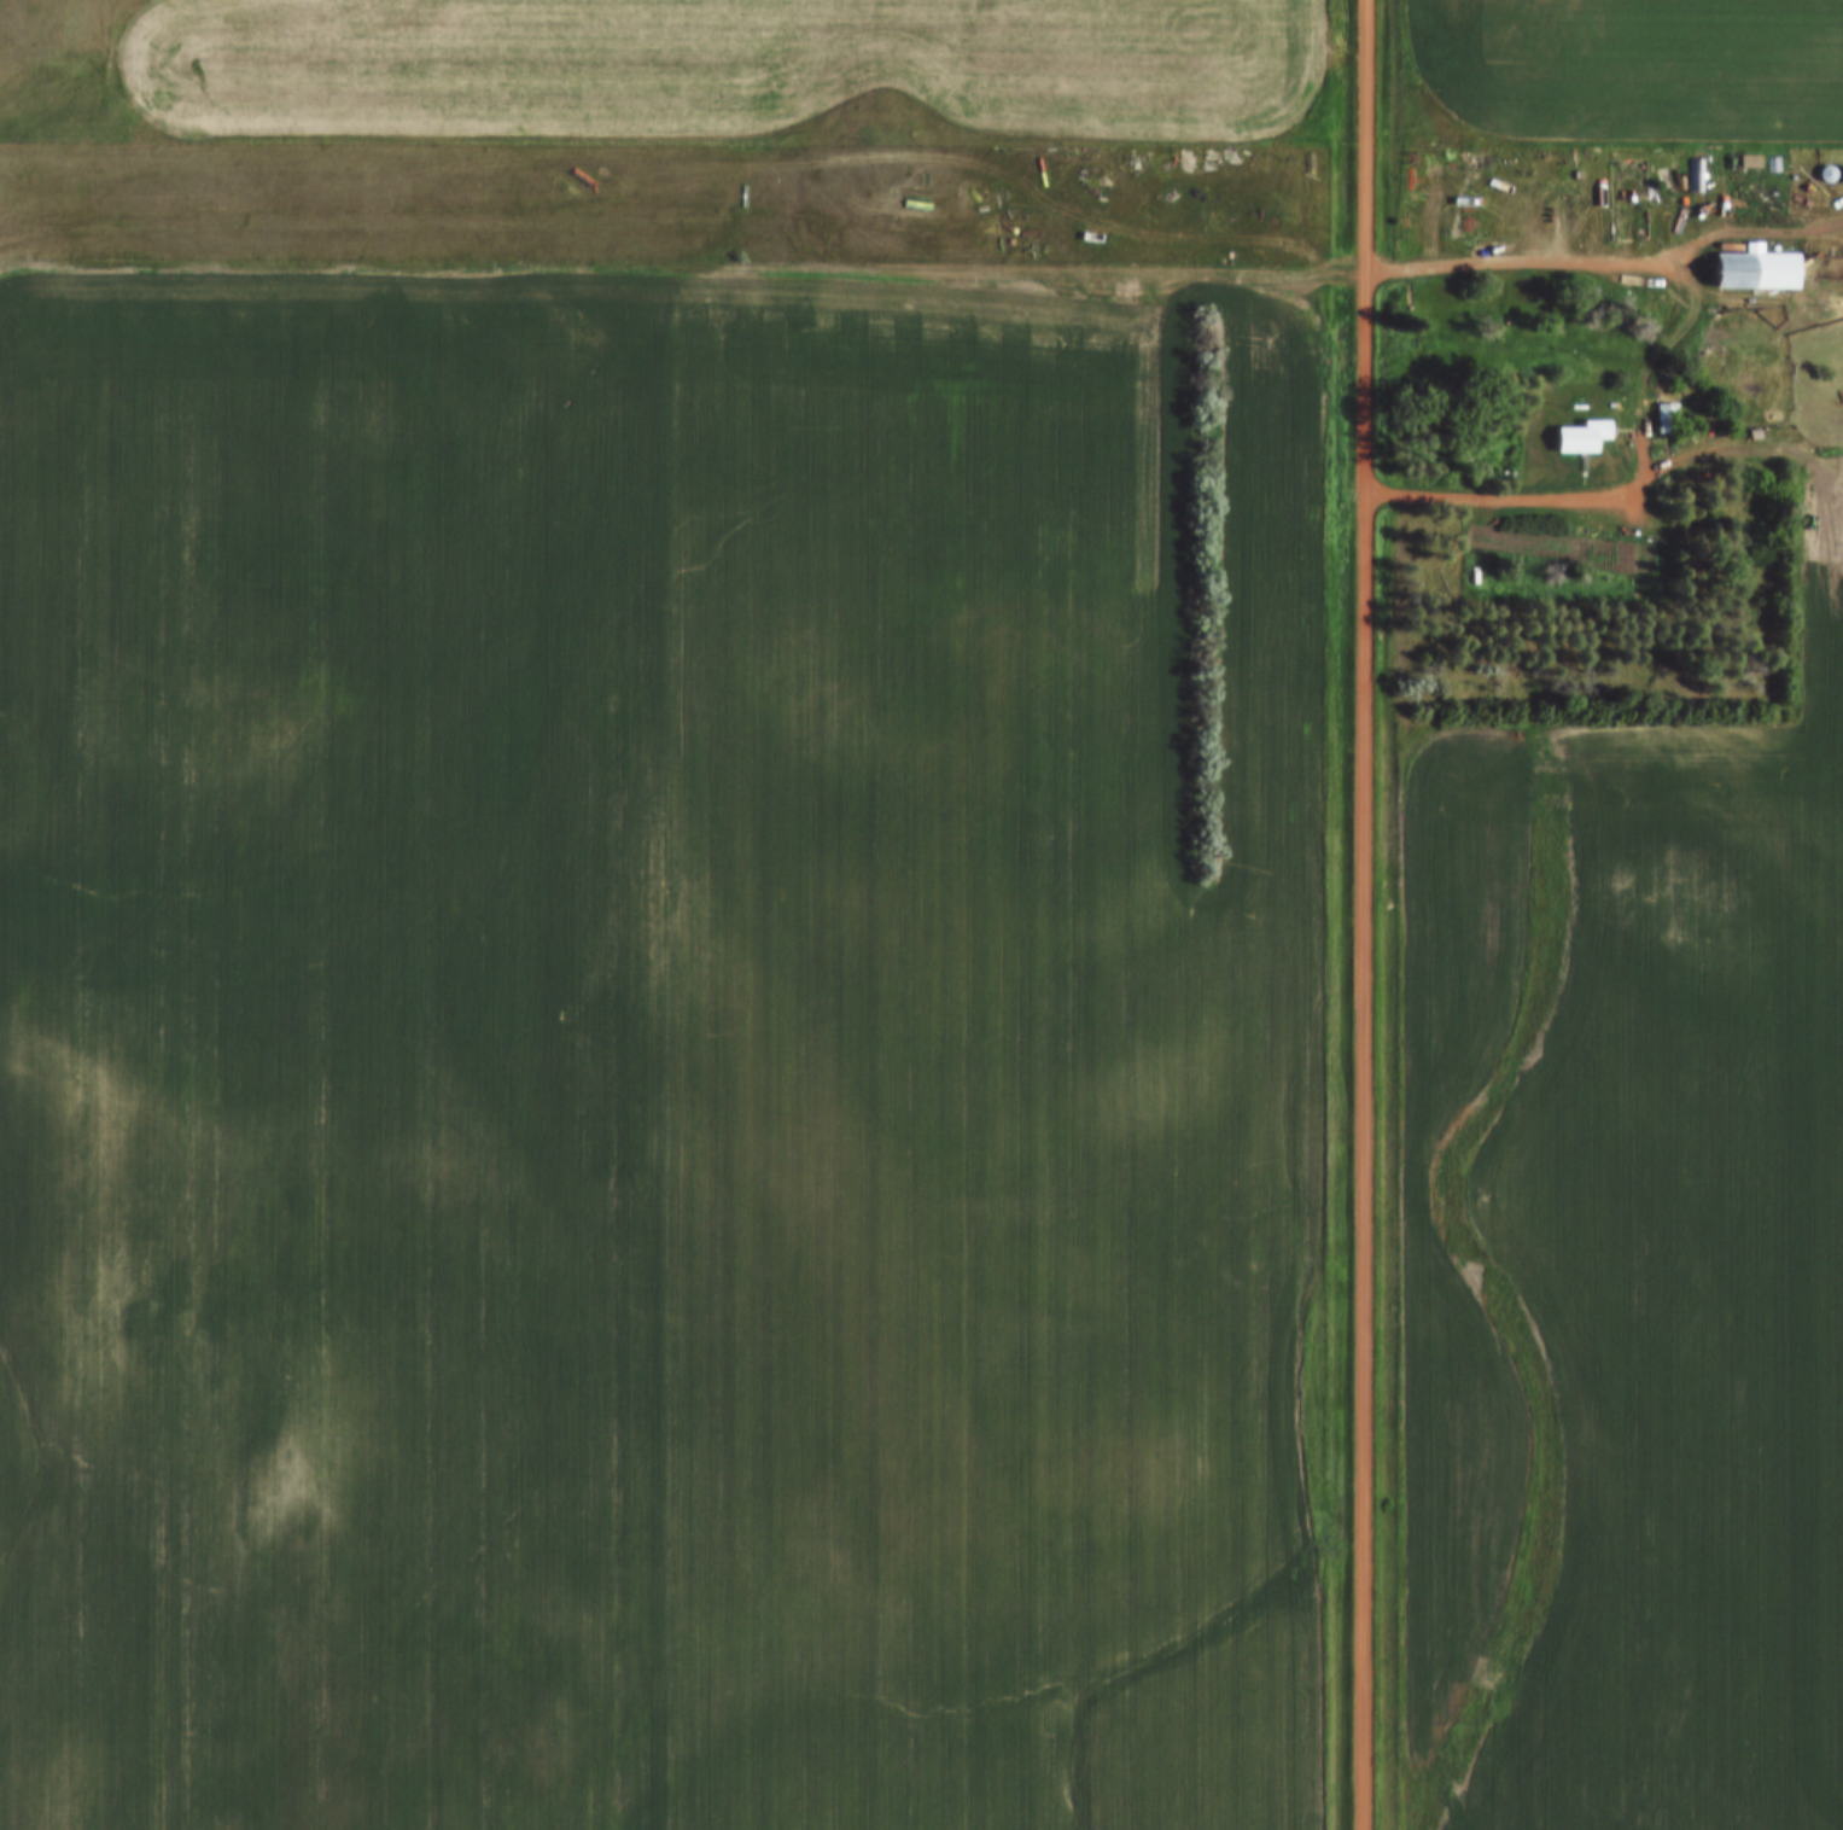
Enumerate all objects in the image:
road: (1755, 229)
road: (1520, 260)
building: (1761, 269)
road: (1667, 339)
building: (1669, 419)
building: (1587, 437)
road: (1544, 497)
road: (1364, 914)

